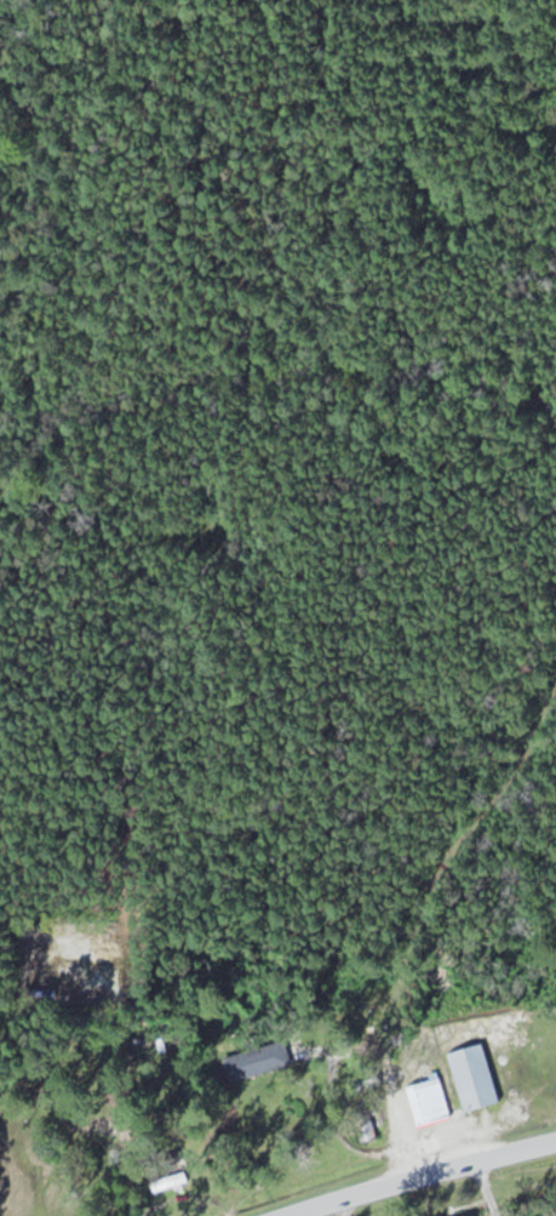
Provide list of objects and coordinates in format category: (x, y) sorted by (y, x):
building: (258, 1058)
building: (475, 1077)
building: (428, 1100)
building: (97, 1127)
building: (368, 1131)
road: (420, 1170)
building: (170, 1181)
building: (474, 1215)

